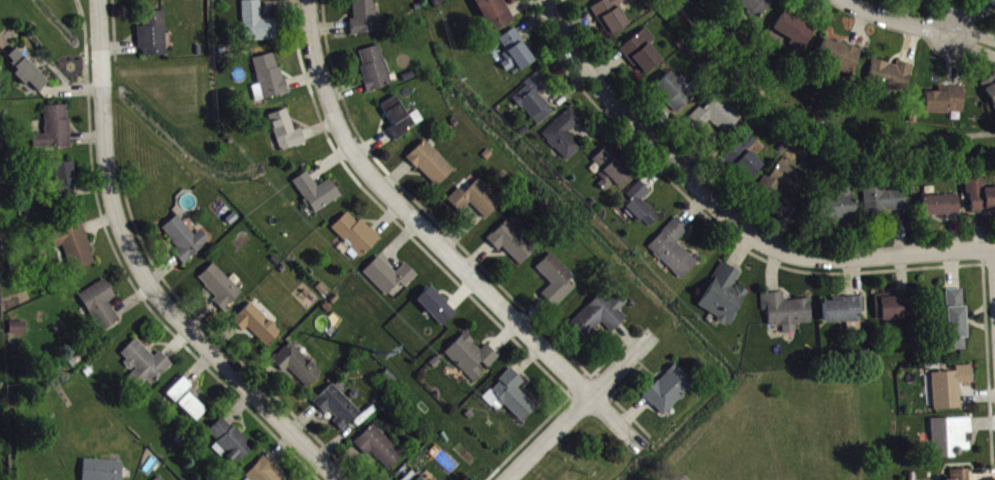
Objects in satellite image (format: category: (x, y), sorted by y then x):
building: (992, 1)
building: (755, 7)
building: (495, 14)
building: (612, 17)
building: (367, 19)
road: (900, 19)
building: (258, 25)
building: (795, 31)
building: (154, 37)
building: (517, 54)
building: (643, 54)
building: (839, 58)
building: (375, 71)
building: (27, 73)
building: (893, 77)
building: (271, 78)
building: (991, 90)
building: (675, 94)
building: (535, 101)
building: (947, 102)
building: (718, 118)
building: (401, 120)
building: (55, 131)
building: (287, 133)
road: (648, 135)
building: (565, 136)
road: (808, 137)
building: (746, 160)
building: (431, 166)
building: (67, 181)
building: (788, 182)
building: (318, 194)
building: (981, 197)
building: (476, 201)
building: (886, 201)
building: (641, 207)
building: (943, 207)
building: (357, 236)
building: (186, 241)
road: (438, 242)
building: (513, 244)
building: (76, 248)
building: (674, 251)
road: (885, 255)
road: (146, 274)
building: (391, 278)
building: (557, 282)
building: (222, 289)
building: (724, 297)
building: (102, 307)
building: (438, 308)
building: (897, 309)
building: (845, 312)
building: (788, 314)
building: (602, 316)
building: (957, 322)
building: (258, 326)
power tower: (364, 336)
building: (473, 359)
building: (146, 365)
building: (298, 367)
building: (951, 389)
building: (670, 392)
building: (512, 398)
building: (187, 402)
building: (338, 408)
road: (578, 410)
building: (951, 439)
building: (231, 444)
building: (381, 450)
building: (103, 471)
building: (266, 473)
building: (961, 476)
building: (411, 478)
building: (161, 479)
building: (419, 479)

